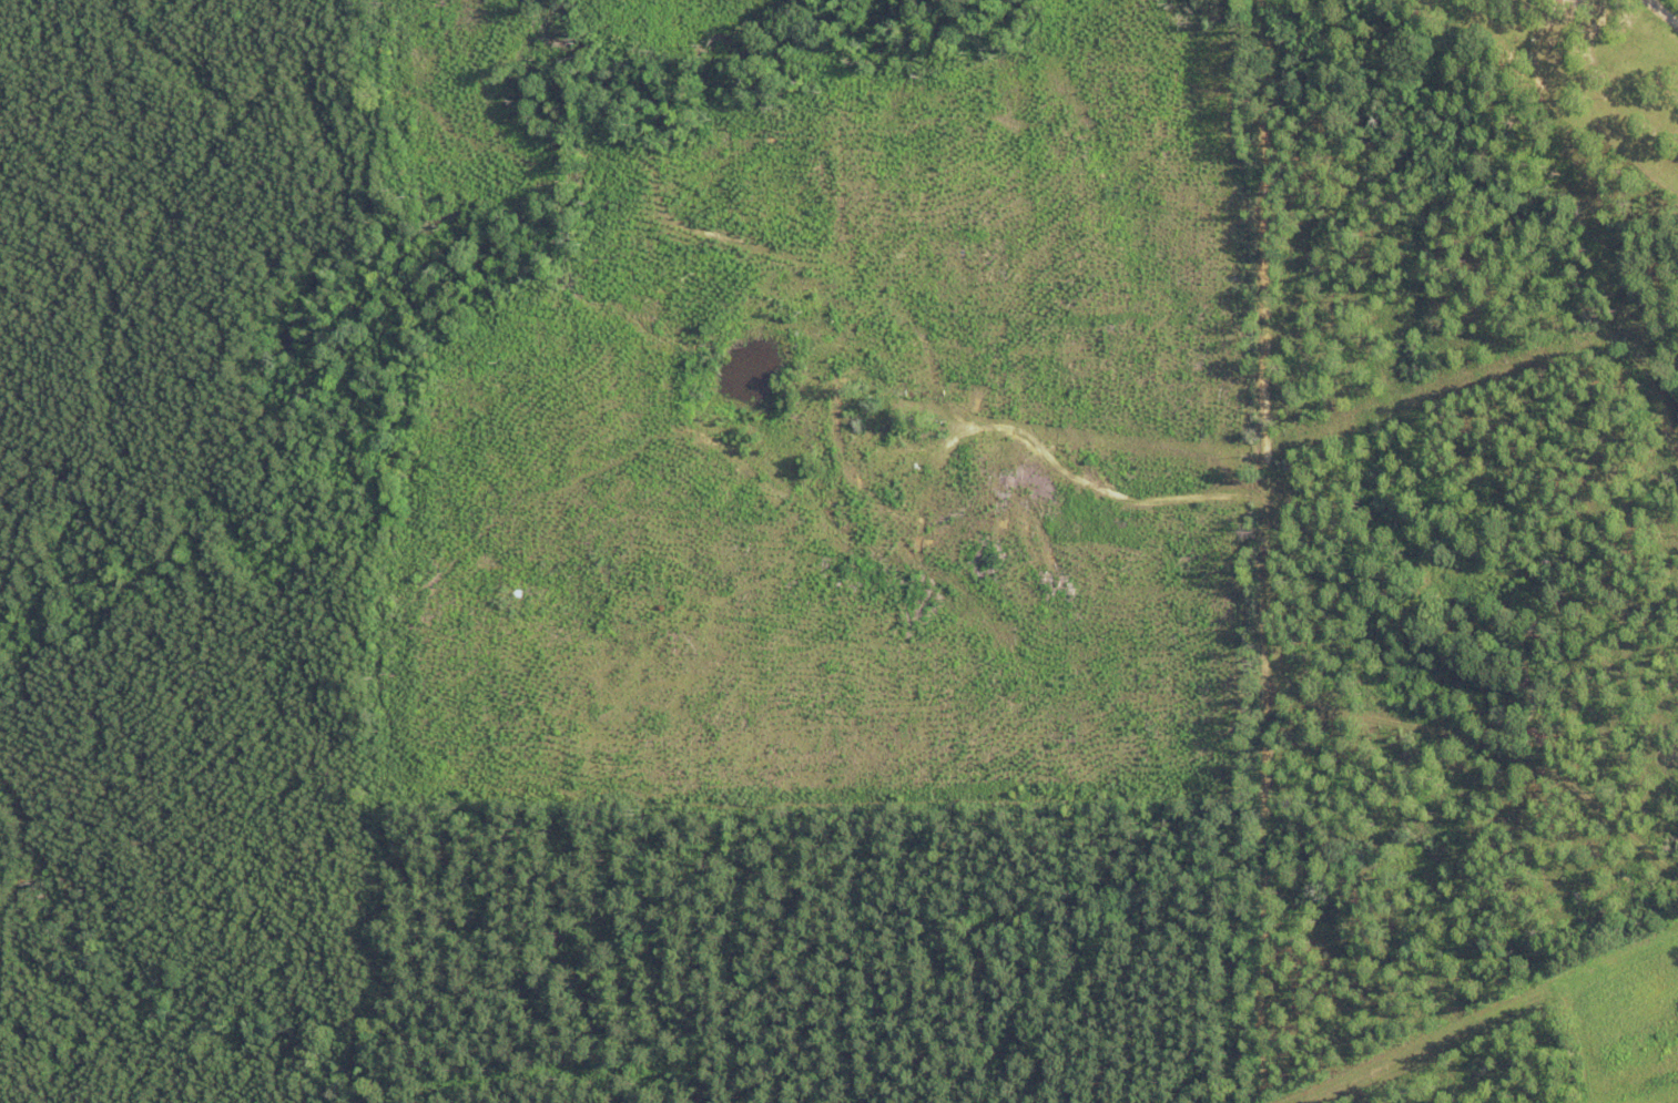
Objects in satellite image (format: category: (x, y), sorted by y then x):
road: (1666, 7)

